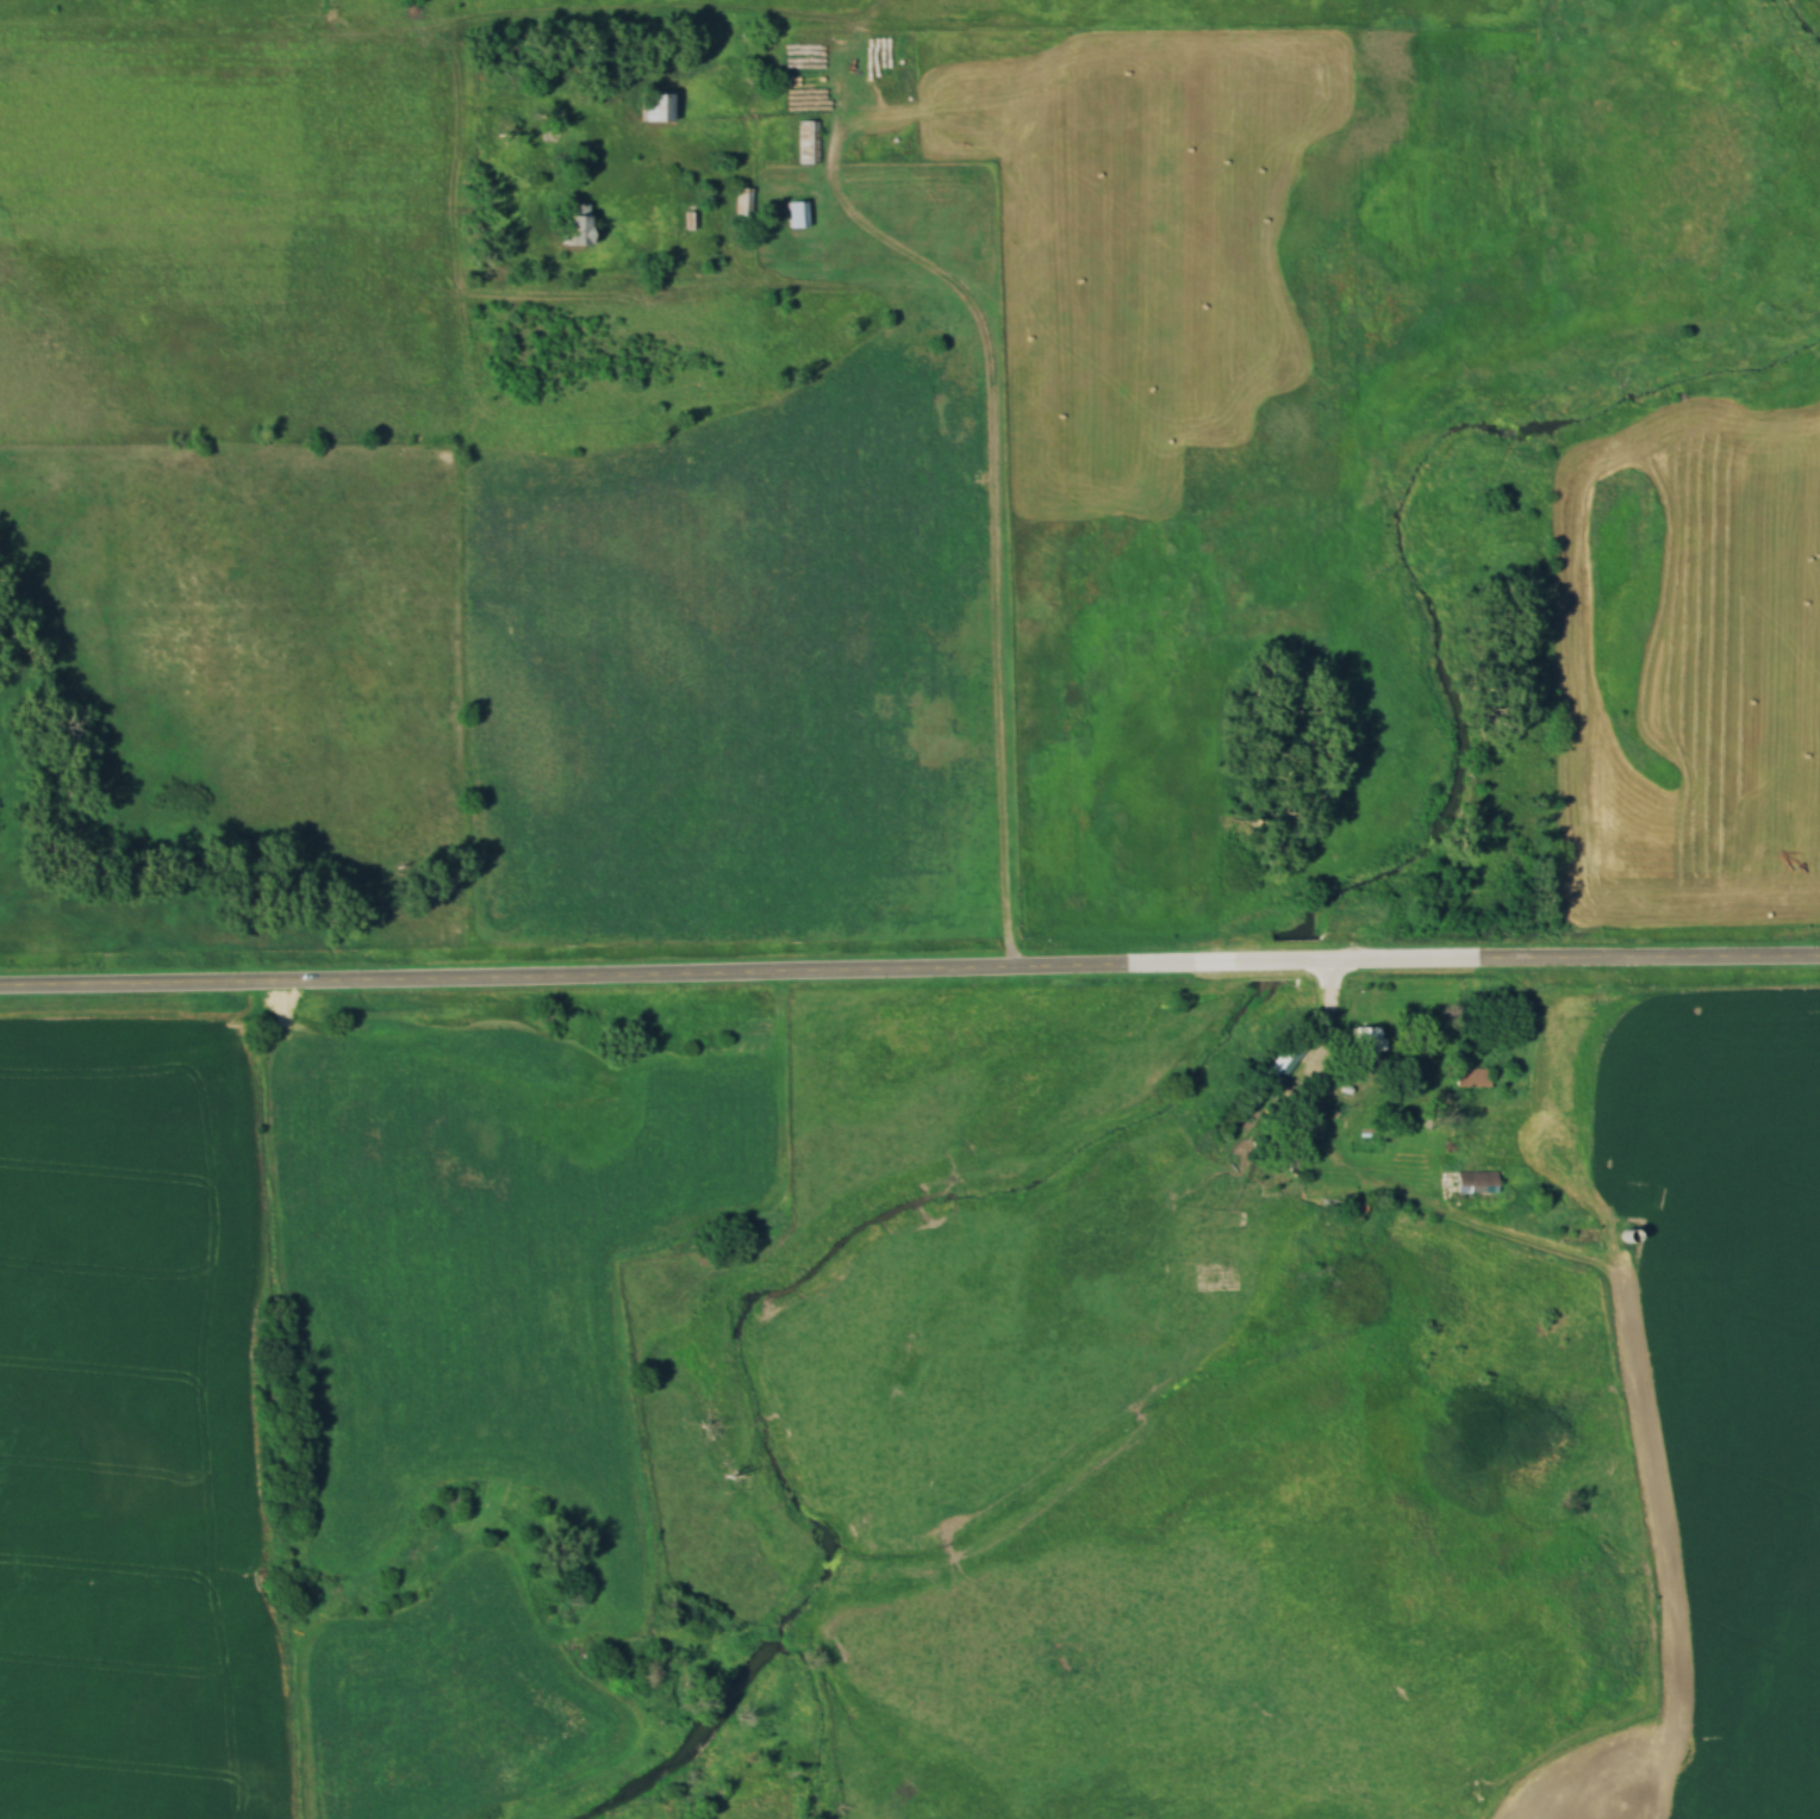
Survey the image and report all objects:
river: (1805, 19)
building: (652, 107)
building: (804, 142)
building: (738, 201)
building: (792, 213)
building: (567, 225)
road: (997, 434)
road: (1557, 963)
road: (1277, 966)
road: (630, 980)
road: (1329, 1034)
building: (1359, 1052)
building: (1279, 1063)
river: (1199, 1070)
building: (1469, 1077)
building: (1472, 1184)

